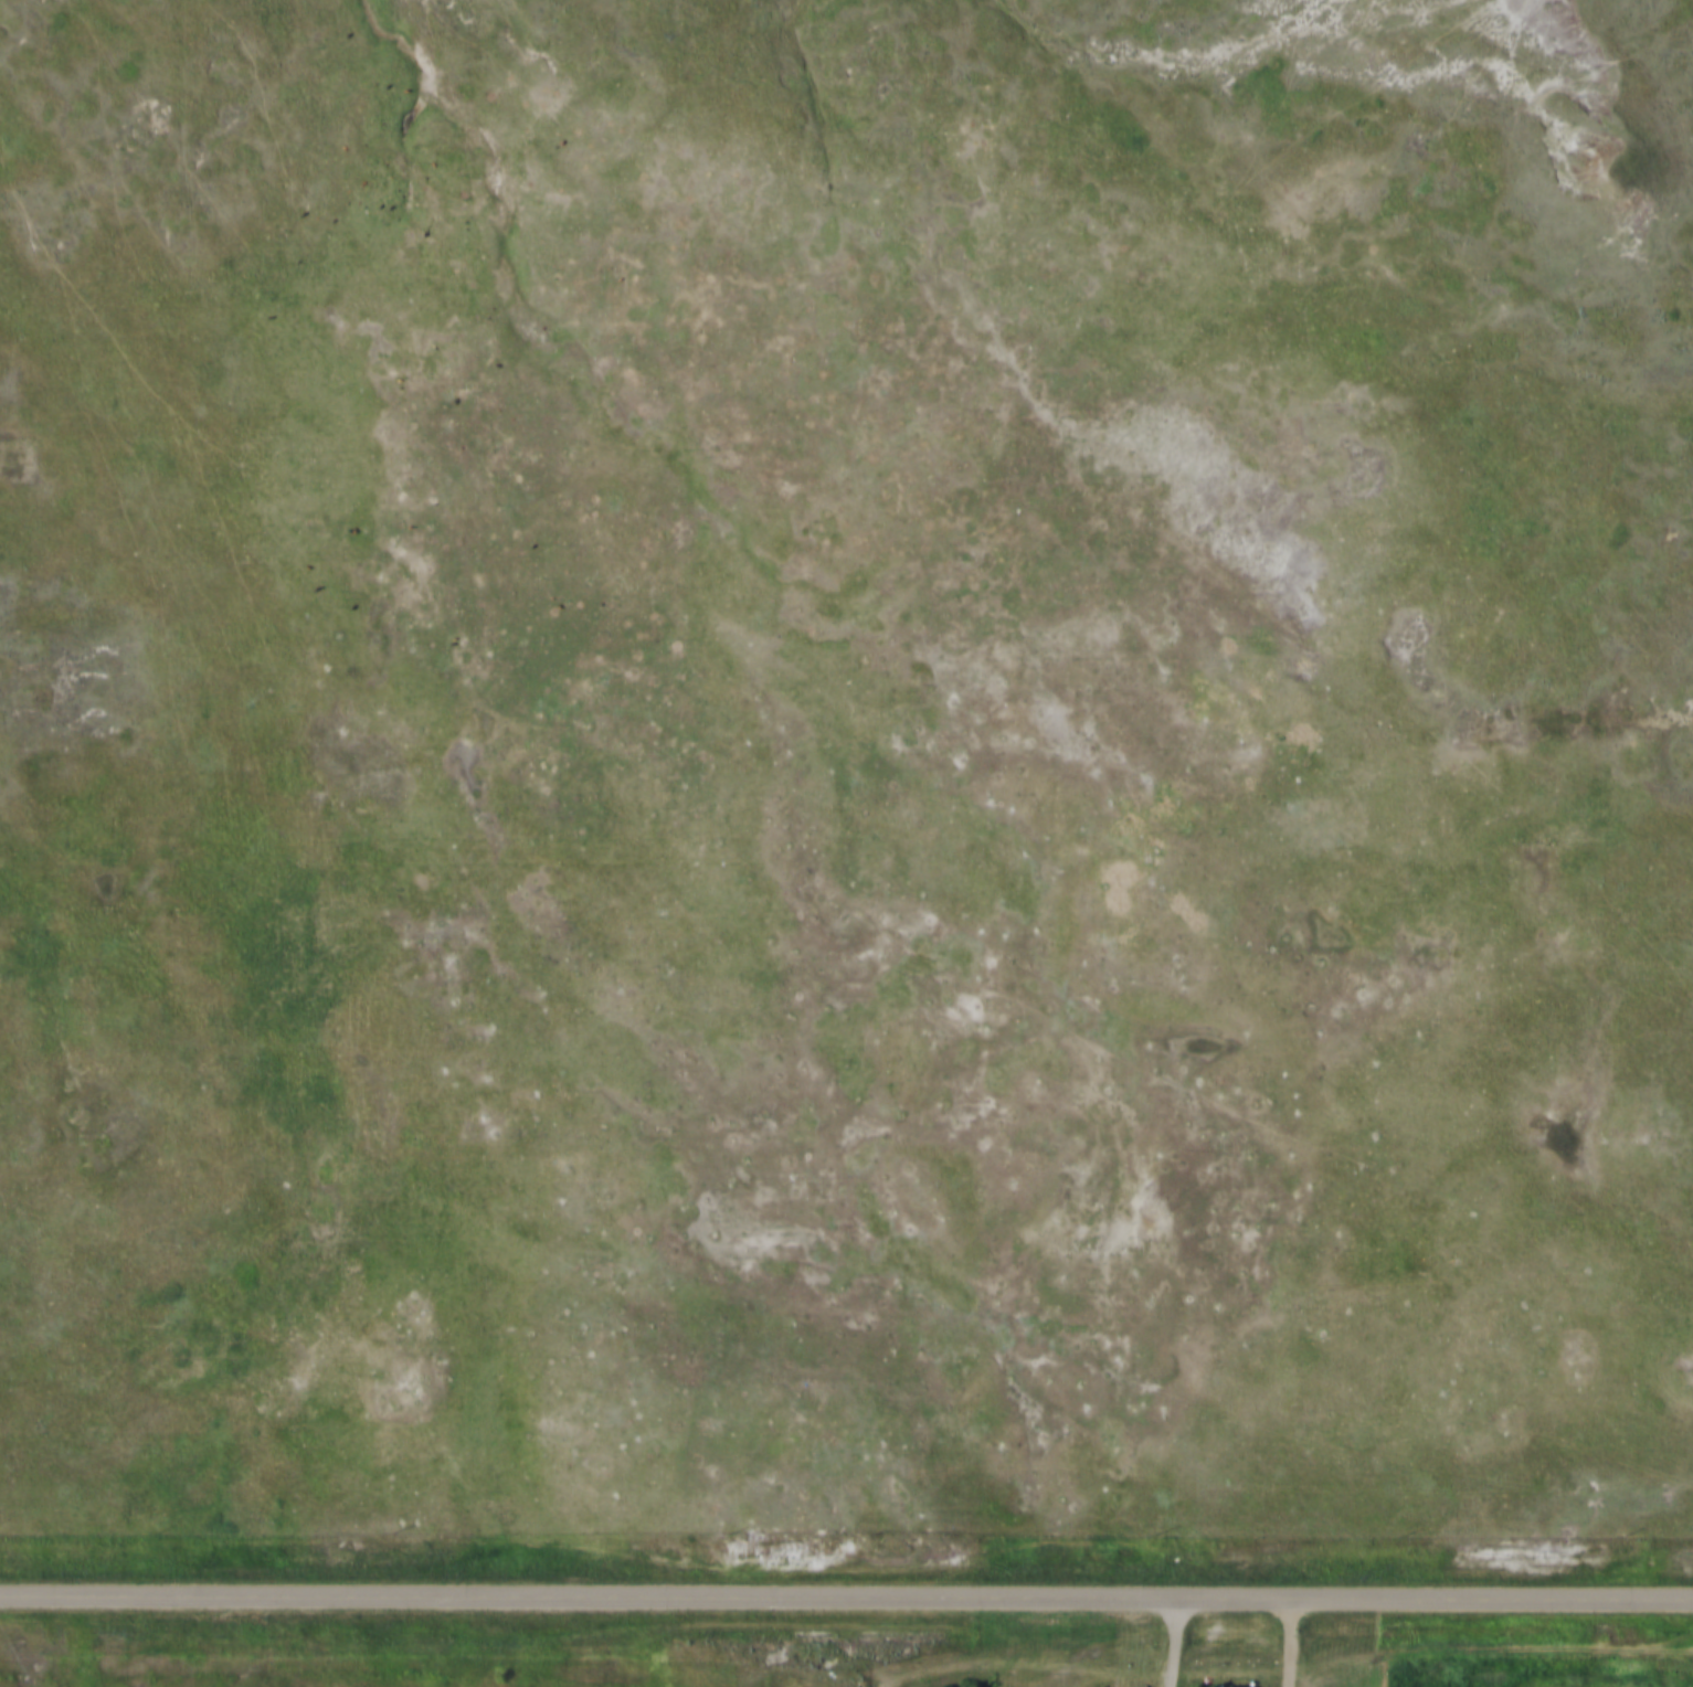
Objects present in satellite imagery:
road: (846, 1599)
road: (1178, 1644)
road: (1297, 1644)

